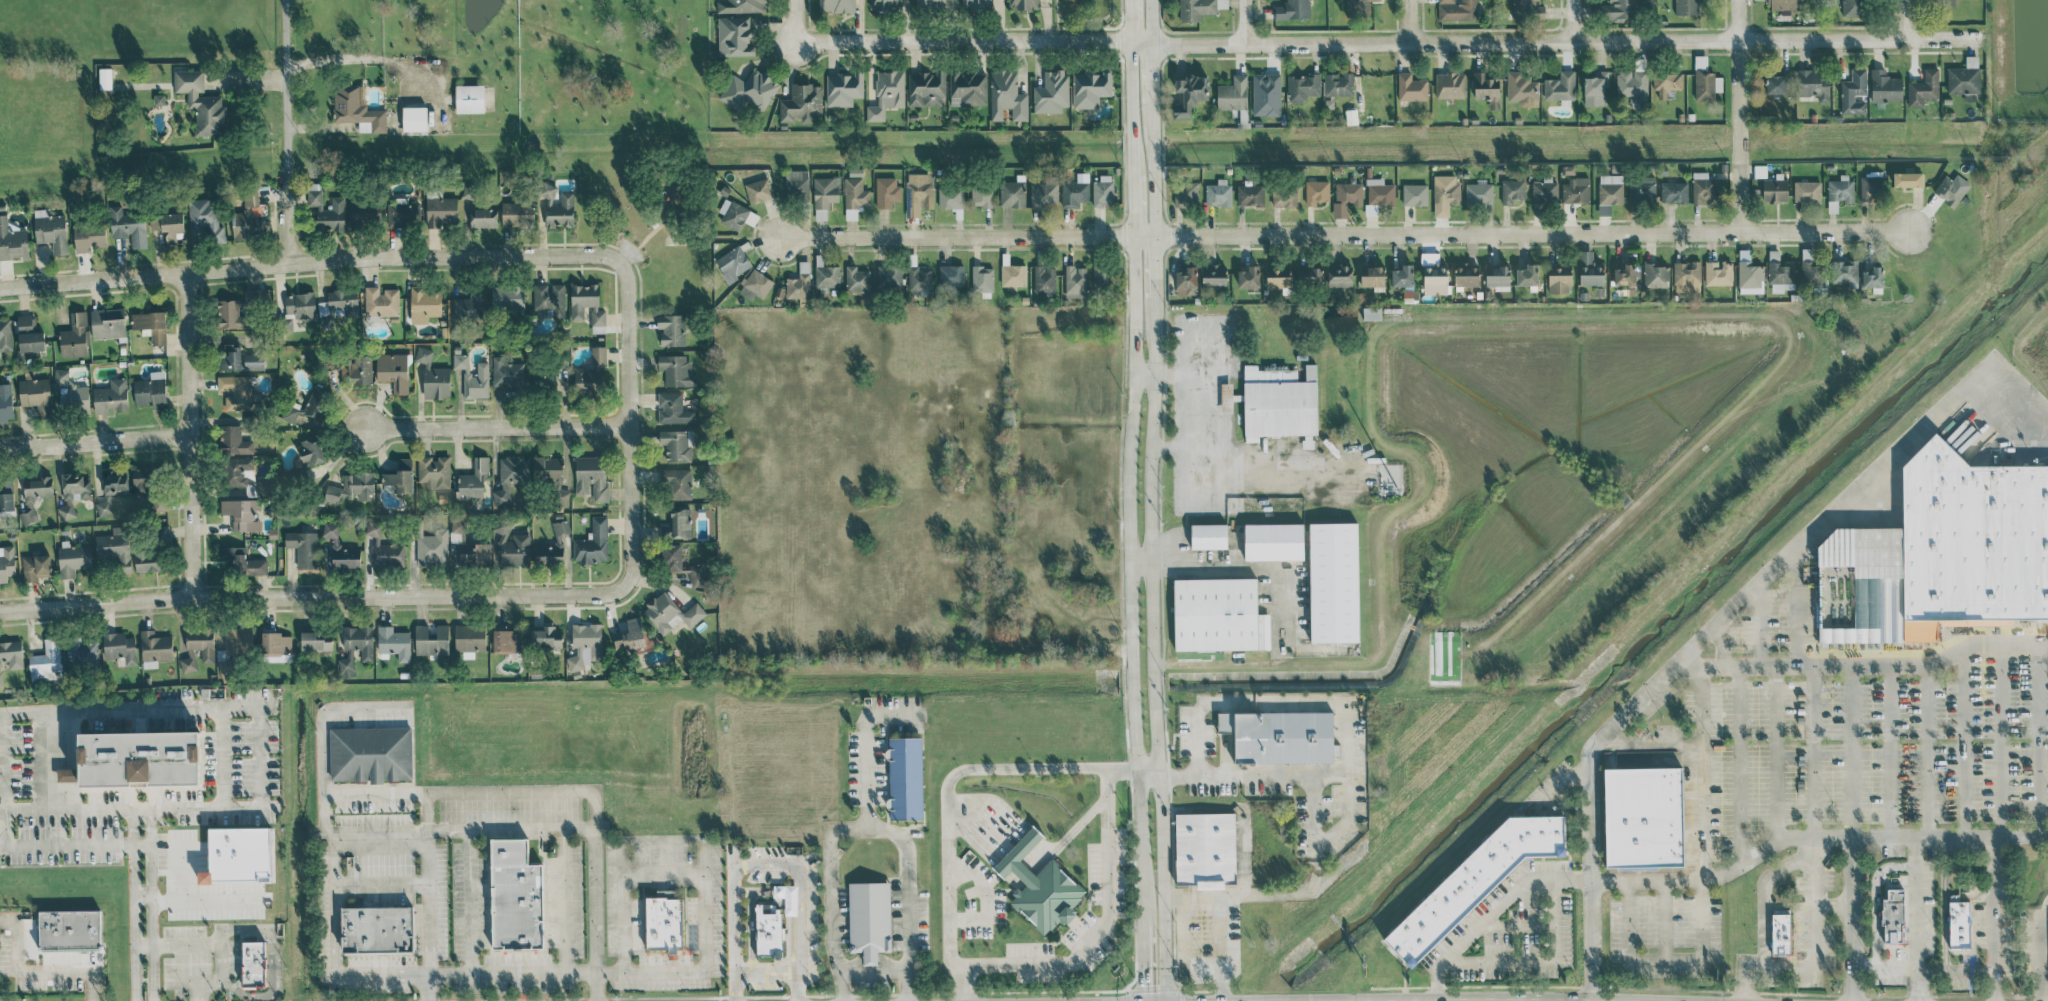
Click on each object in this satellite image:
building: (883, 4)
building: (929, 4)
building: (1022, 4)
building: (1785, 4)
building: (740, 5)
building: (837, 5)
building: (977, 5)
building: (1686, 7)
road: (1073, 8)
building: (1198, 8)
building: (1358, 8)
building: (1853, 8)
building: (1292, 9)
building: (1527, 9)
building: (1619, 9)
building: (1456, 10)
road: (1085, 18)
road: (1899, 20)
road: (798, 21)
road: (1409, 21)
road: (1571, 21)
road: (1248, 22)
building: (735, 36)
road: (965, 41)
road: (1555, 42)
road: (356, 58)
building: (1964, 77)
building: (105, 78)
building: (1666, 82)
building: (1706, 82)
building: (1813, 83)
building: (1338, 84)
building: (1632, 84)
building: (1775, 84)
building: (1450, 85)
building: (1560, 86)
building: (1885, 86)
building: (1302, 87)
building: (1411, 87)
building: (844, 88)
building: (926, 88)
building: (967, 88)
building: (1090, 88)
building: (1595, 88)
building: (1923, 88)
building: (1486, 89)
building: (1522, 89)
building: (749, 90)
building: (1051, 92)
building: (1853, 92)
building: (887, 93)
building: (1189, 93)
building: (1232, 94)
building: (1266, 94)
building: (1006, 96)
building: (470, 98)
building: (159, 99)
building: (201, 102)
building: (801, 103)
building: (357, 109)
road: (1739, 115)
building: (414, 118)
road: (320, 126)
road: (286, 131)
building: (1759, 170)
building: (1907, 179)
building: (796, 183)
building: (1871, 187)
building: (1703, 188)
building: (1642, 189)
building: (1774, 189)
building: (1951, 189)
building: (759, 190)
building: (1512, 190)
building: (1544, 190)
building: (1575, 190)
building: (825, 191)
building: (887, 191)
building: (1075, 191)
building: (1102, 191)
building: (1807, 191)
building: (919, 192)
building: (1012, 192)
building: (1316, 192)
building: (1379, 192)
building: (1609, 192)
building: (1674, 192)
building: (1839, 192)
building: (855, 193)
building: (1185, 193)
building: (1218, 193)
building: (1479, 193)
building: (1414, 194)
building: (1445, 194)
building: (982, 195)
building: (1044, 195)
building: (1250, 195)
building: (1284, 195)
building: (950, 197)
building: (1346, 197)
building: (557, 206)
building: (479, 208)
building: (440, 209)
building: (328, 210)
building: (362, 212)
building: (402, 212)
building: (517, 213)
building: (736, 214)
building: (821, 214)
building: (247, 217)
building: (206, 219)
building: (169, 225)
building: (128, 226)
building: (51, 230)
road: (1340, 235)
building: (89, 236)
building: (12, 241)
road: (309, 261)
building: (733, 262)
building: (1780, 269)
building: (1810, 269)
building: (1589, 270)
building: (1749, 271)
building: (1844, 271)
building: (1718, 272)
building: (1213, 274)
building: (1466, 274)
building: (1012, 275)
building: (1309, 275)
building: (1339, 275)
building: (1527, 275)
building: (1624, 275)
building: (1656, 275)
building: (889, 276)
building: (951, 276)
building: (1101, 276)
building: (1372, 276)
building: (1402, 276)
building: (1686, 276)
building: (1248, 277)
building: (1277, 277)
building: (1498, 277)
building: (1872, 277)
building: (857, 278)
building: (1435, 278)
building: (1559, 278)
building: (982, 279)
building: (1044, 279)
building: (1075, 281)
building: (1185, 281)
building: (799, 282)
building: (919, 282)
building: (755, 284)
building: (259, 295)
building: (508, 295)
building: (550, 298)
building: (381, 301)
building: (425, 303)
building: (586, 303)
building: (301, 304)
building: (338, 305)
building: (469, 306)
building: (1371, 313)
building: (232, 315)
building: (26, 322)
building: (108, 322)
building: (151, 325)
building: (671, 329)
building: (5, 334)
building: (75, 336)
building: (30, 342)
building: (240, 359)
building: (361, 369)
building: (393, 370)
building: (676, 370)
building: (506, 372)
building: (591, 373)
road: (1161, 375)
building: (61, 376)
building: (433, 376)
building: (473, 377)
building: (544, 377)
building: (151, 390)
building: (236, 391)
building: (36, 394)
building: (111, 396)
building: (1227, 396)
building: (6, 402)
building: (1277, 403)
building: (308, 406)
building: (673, 408)
road: (628, 425)
road: (496, 427)
road: (190, 435)
road: (95, 441)
building: (234, 441)
building: (676, 445)
road: (1170, 447)
building: (311, 450)
road: (1296, 454)
building: (548, 469)
building: (434, 471)
building: (240, 473)
building: (591, 475)
building: (400, 476)
building: (511, 476)
building: (473, 479)
building: (115, 482)
building: (676, 483)
building: (353, 487)
building: (147, 489)
building: (74, 493)
building: (35, 496)
building: (7, 498)
road: (1130, 500)
road: (1152, 500)
building: (103, 507)
building: (241, 513)
building: (677, 523)
building: (330, 529)
building: (161, 532)
building: (1207, 536)
building: (1272, 541)
building: (593, 542)
building: (114, 546)
building: (552, 546)
building: (303, 547)
building: (432, 547)
building: (384, 548)
building: (512, 548)
building: (476, 554)
building: (344, 556)
building: (73, 558)
building: (149, 558)
road: (1142, 558)
building: (244, 560)
building: (6, 562)
building: (1938, 562)
building: (684, 565)
building: (36, 566)
road: (1249, 570)
building: (1333, 582)
road: (309, 596)
building: (671, 613)
building: (1217, 615)
road: (1724, 623)
building: (633, 637)
building: (470, 638)
building: (546, 638)
building: (432, 639)
building: (316, 640)
building: (507, 641)
building: (394, 642)
building: (276, 643)
building: (585, 645)
building: (119, 646)
building: (198, 647)
building: (355, 647)
building: (155, 648)
building: (81, 652)
building: (11, 655)
building: (47, 661)
road: (1861, 673)
road: (236, 705)
road: (1344, 721)
road: (322, 730)
building: (1280, 736)
road: (865, 744)
building: (371, 753)
road: (222, 756)
building: (140, 758)
parking lot: (1873, 760)
road: (46, 761)
road: (965, 770)
building: (68, 774)
building: (905, 778)
road: (2, 779)
road: (1698, 783)
road: (374, 793)
road: (510, 793)
road: (68, 810)
road: (142, 810)
building: (1640, 829)
road: (391, 830)
road: (1067, 834)
road: (986, 835)
road: (663, 839)
road: (1814, 839)
road: (142, 843)
road: (66, 844)
building: (1205, 849)
building: (239, 854)
road: (1811, 872)
road: (663, 876)
road: (908, 883)
road: (380, 886)
building: (1040, 886)
road: (143, 893)
building: (1472, 893)
building: (515, 896)
road: (594, 896)
road: (799, 896)
road: (428, 897)
road: (985, 899)
road: (563, 900)
road: (468, 902)
road: (1764, 904)
road: (135, 905)
road: (151, 905)
road: (1492, 910)
road: (831, 915)
building: (1892, 916)
building: (869, 919)
road: (1855, 920)
road: (1915, 920)
road: (1994, 920)
building: (664, 924)
road: (1224, 924)
building: (377, 929)
building: (768, 930)
road: (1098, 931)
road: (733, 937)
building: (1958, 937)
road: (158, 944)
building: (1778, 948)
road: (219, 952)
road: (1811, 954)
road: (2036, 954)
road: (1185, 956)
road: (271, 960)
road: (1540, 961)
building: (253, 964)
road: (180, 969)
road: (1923, 969)
road: (34, 972)
road: (519, 973)
road: (873, 973)
road: (960, 983)
traffic signals: (1142, 985)
road: (2043, 987)
road: (197, 992)

